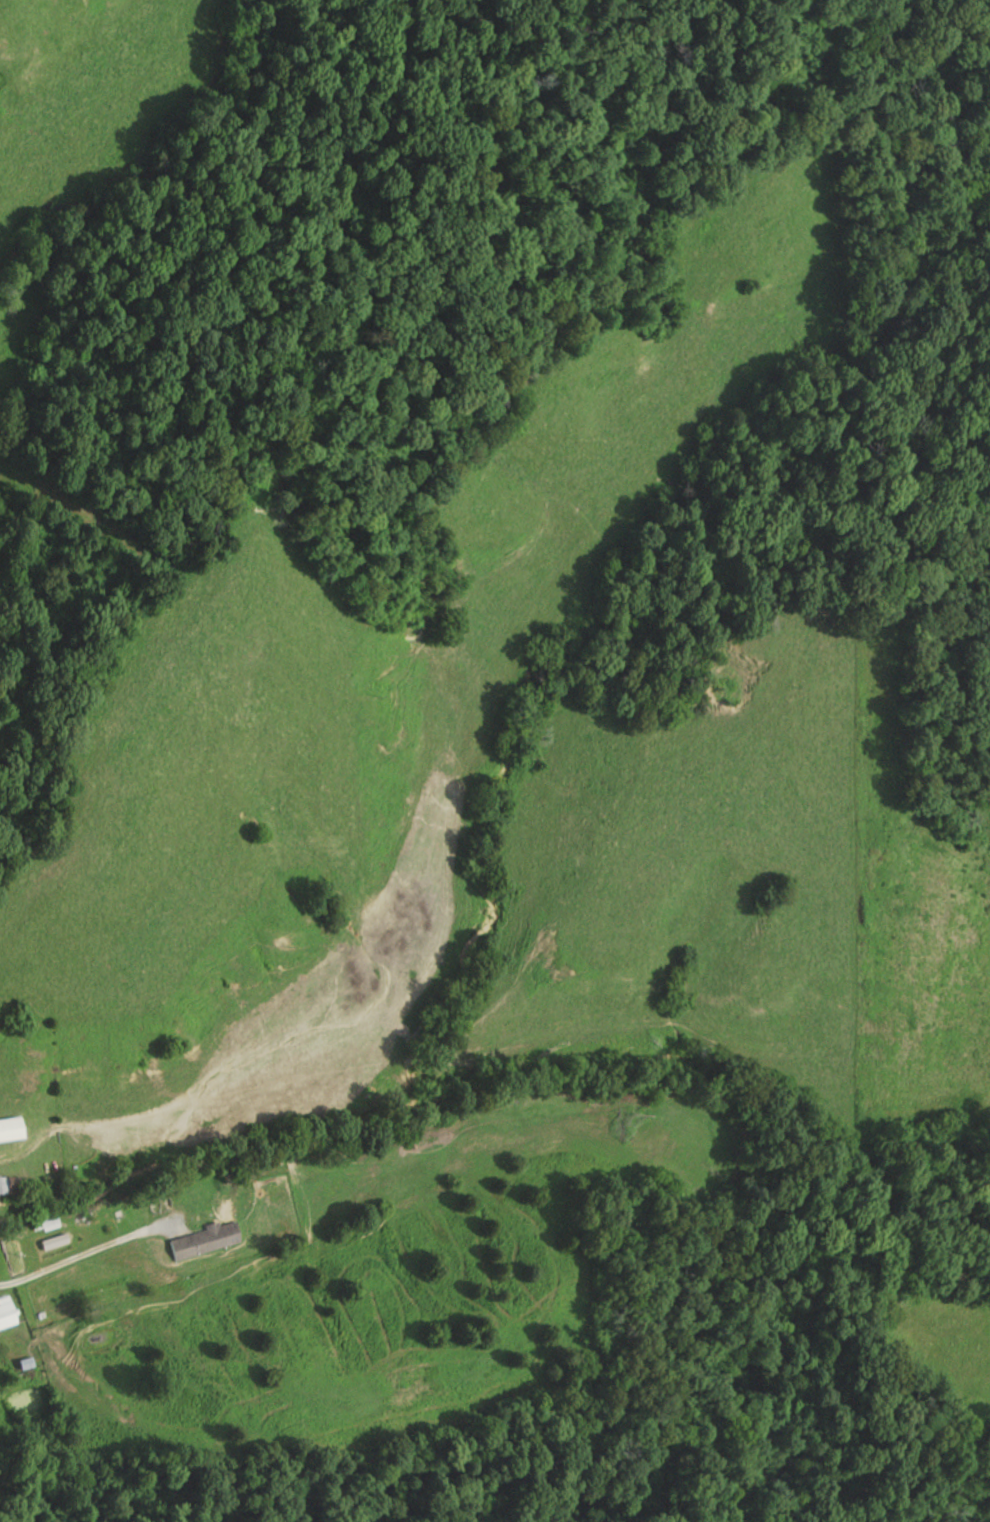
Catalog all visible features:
park: (944, 317)
building: (12, 1129)
building: (10, 1184)
building: (45, 1223)
building: (203, 1240)
road: (91, 1249)
road: (5, 1282)
building: (7, 1313)

